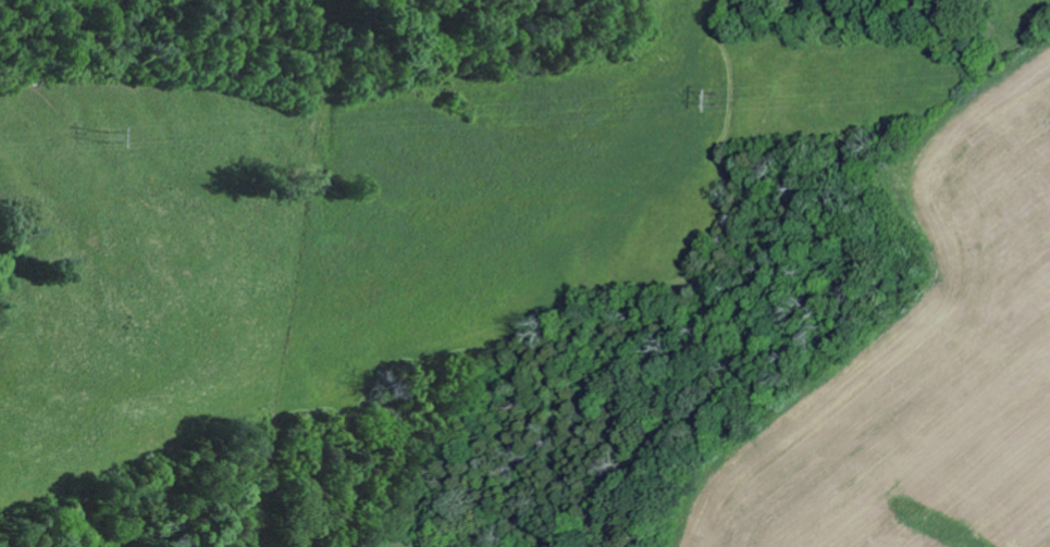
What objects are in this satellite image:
power tower: (720, 102)
power tower: (118, 141)

